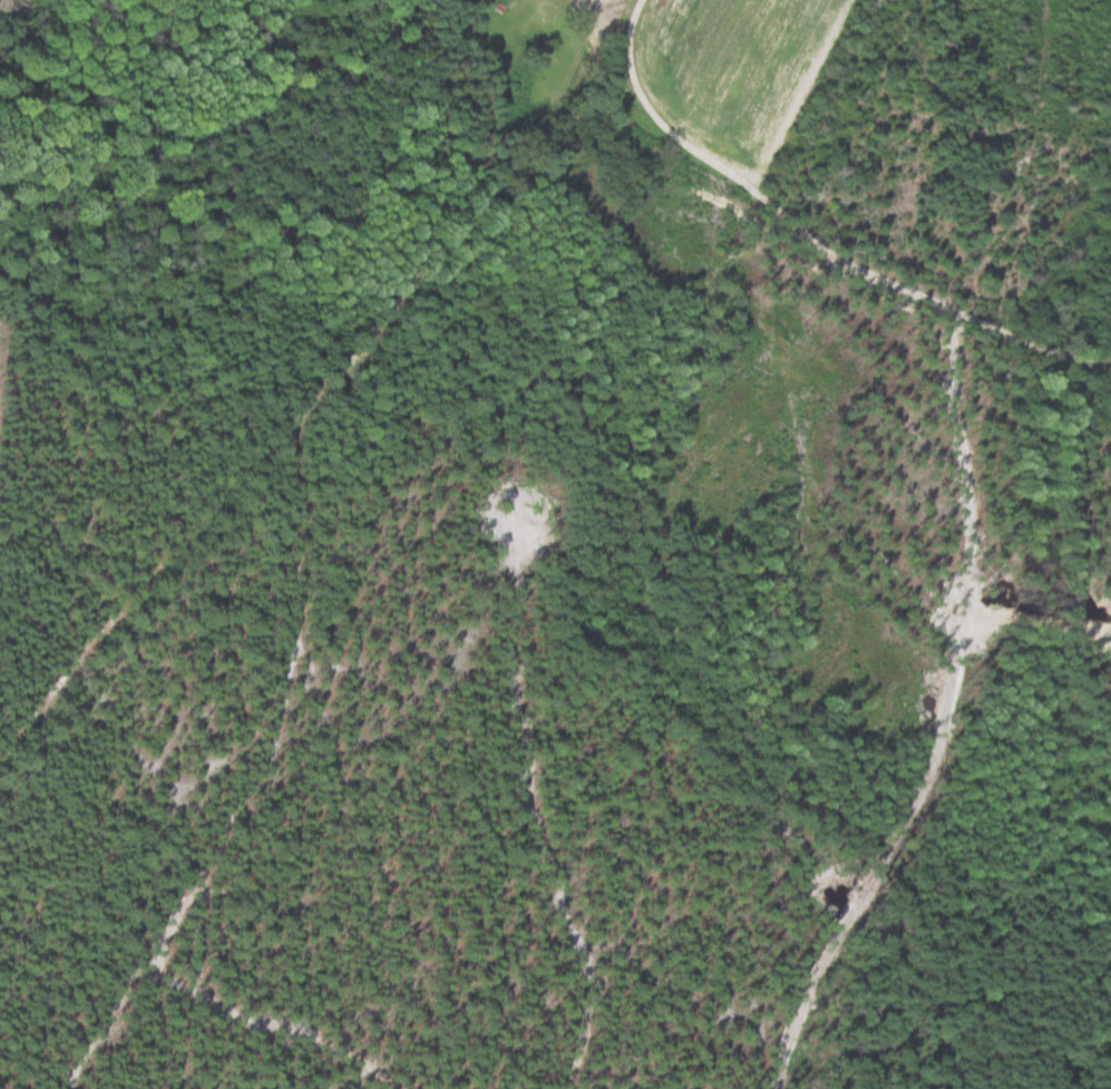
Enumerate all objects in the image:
road: (661, 37)
road: (781, 193)

